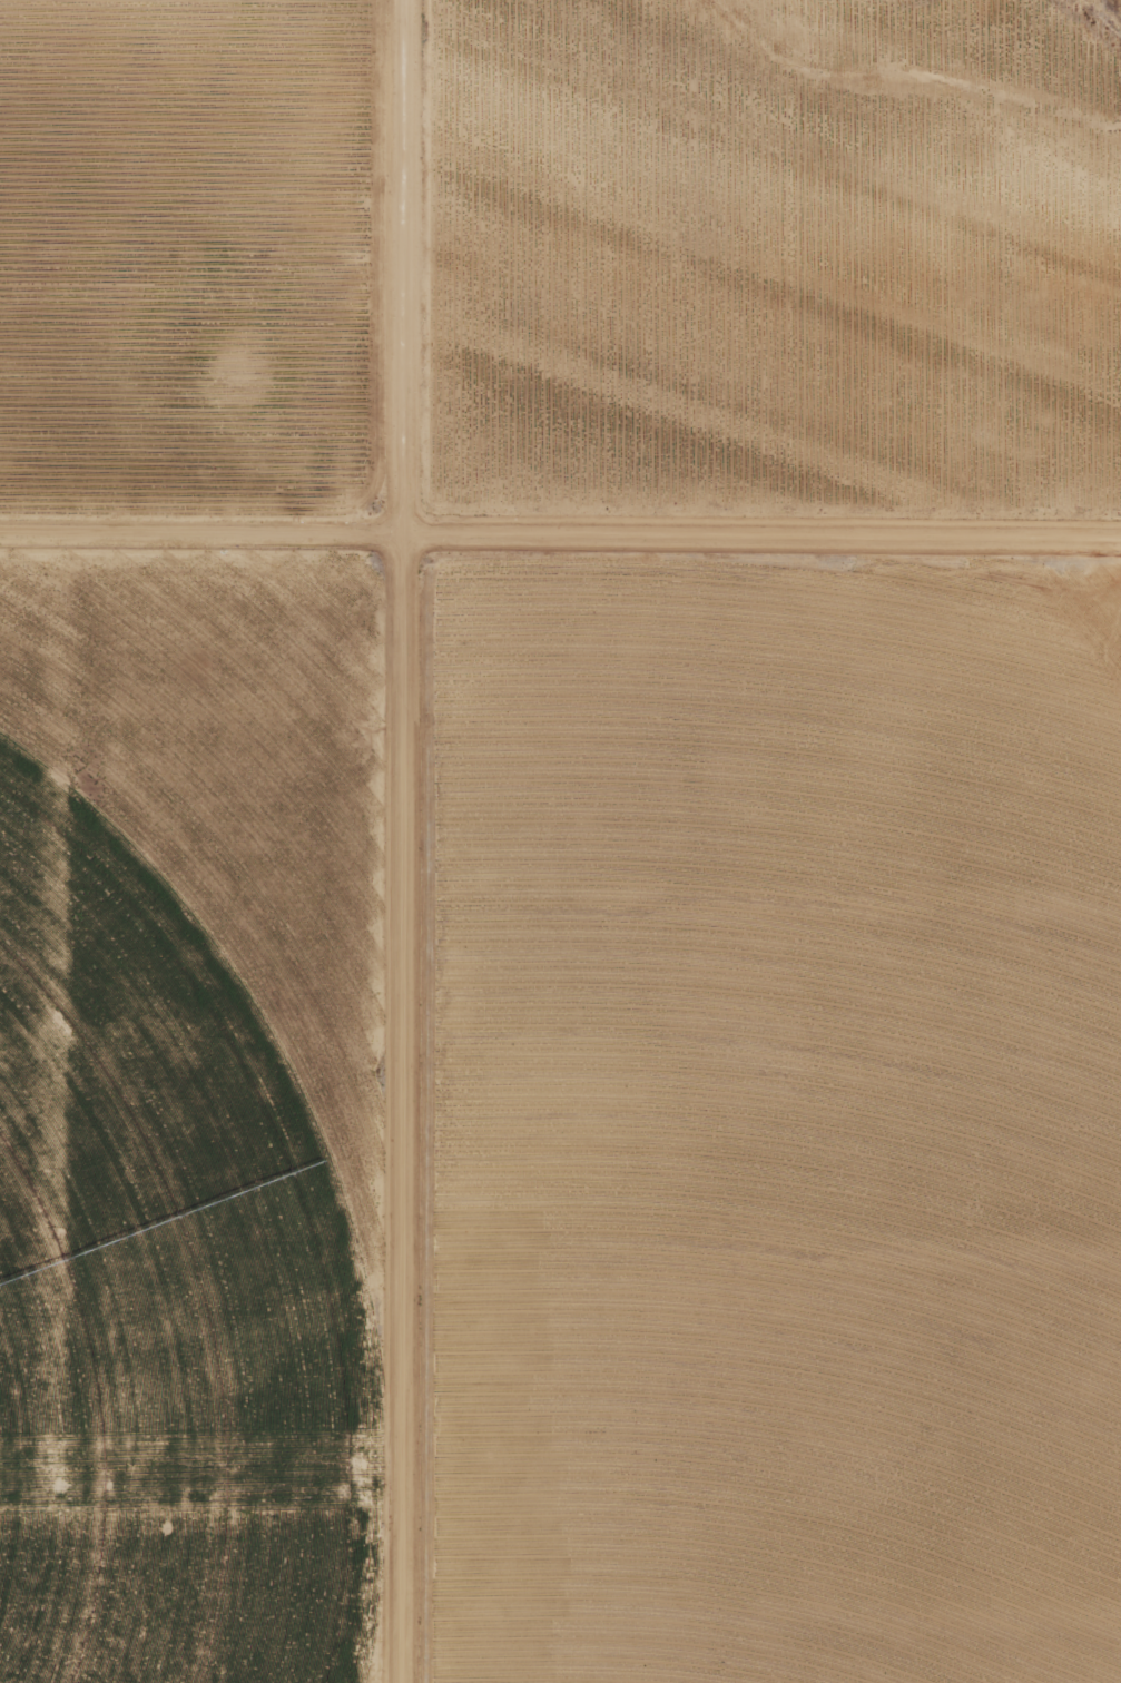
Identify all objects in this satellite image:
road: (560, 533)
road: (384, 840)

